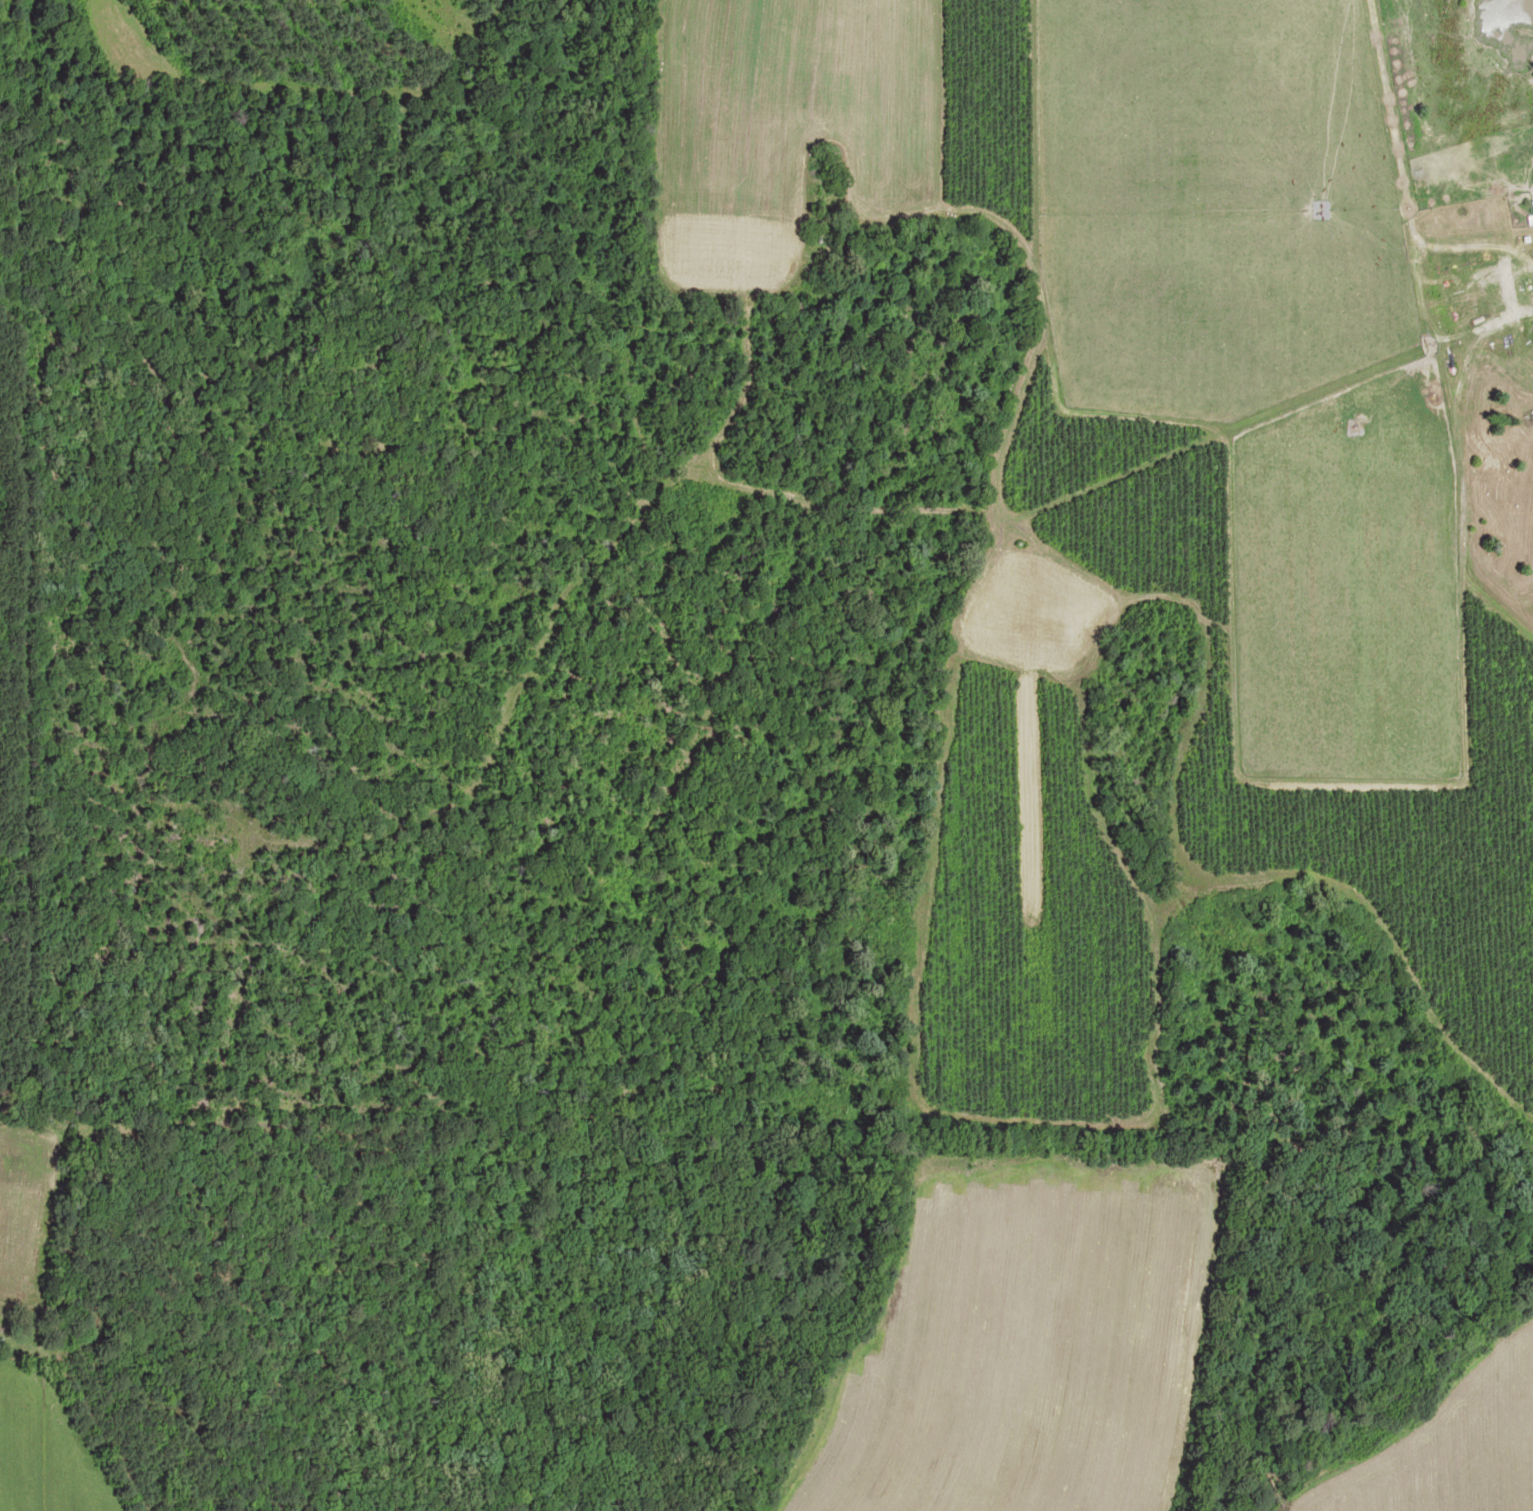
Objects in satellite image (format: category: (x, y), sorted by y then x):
building: (1527, 210)

